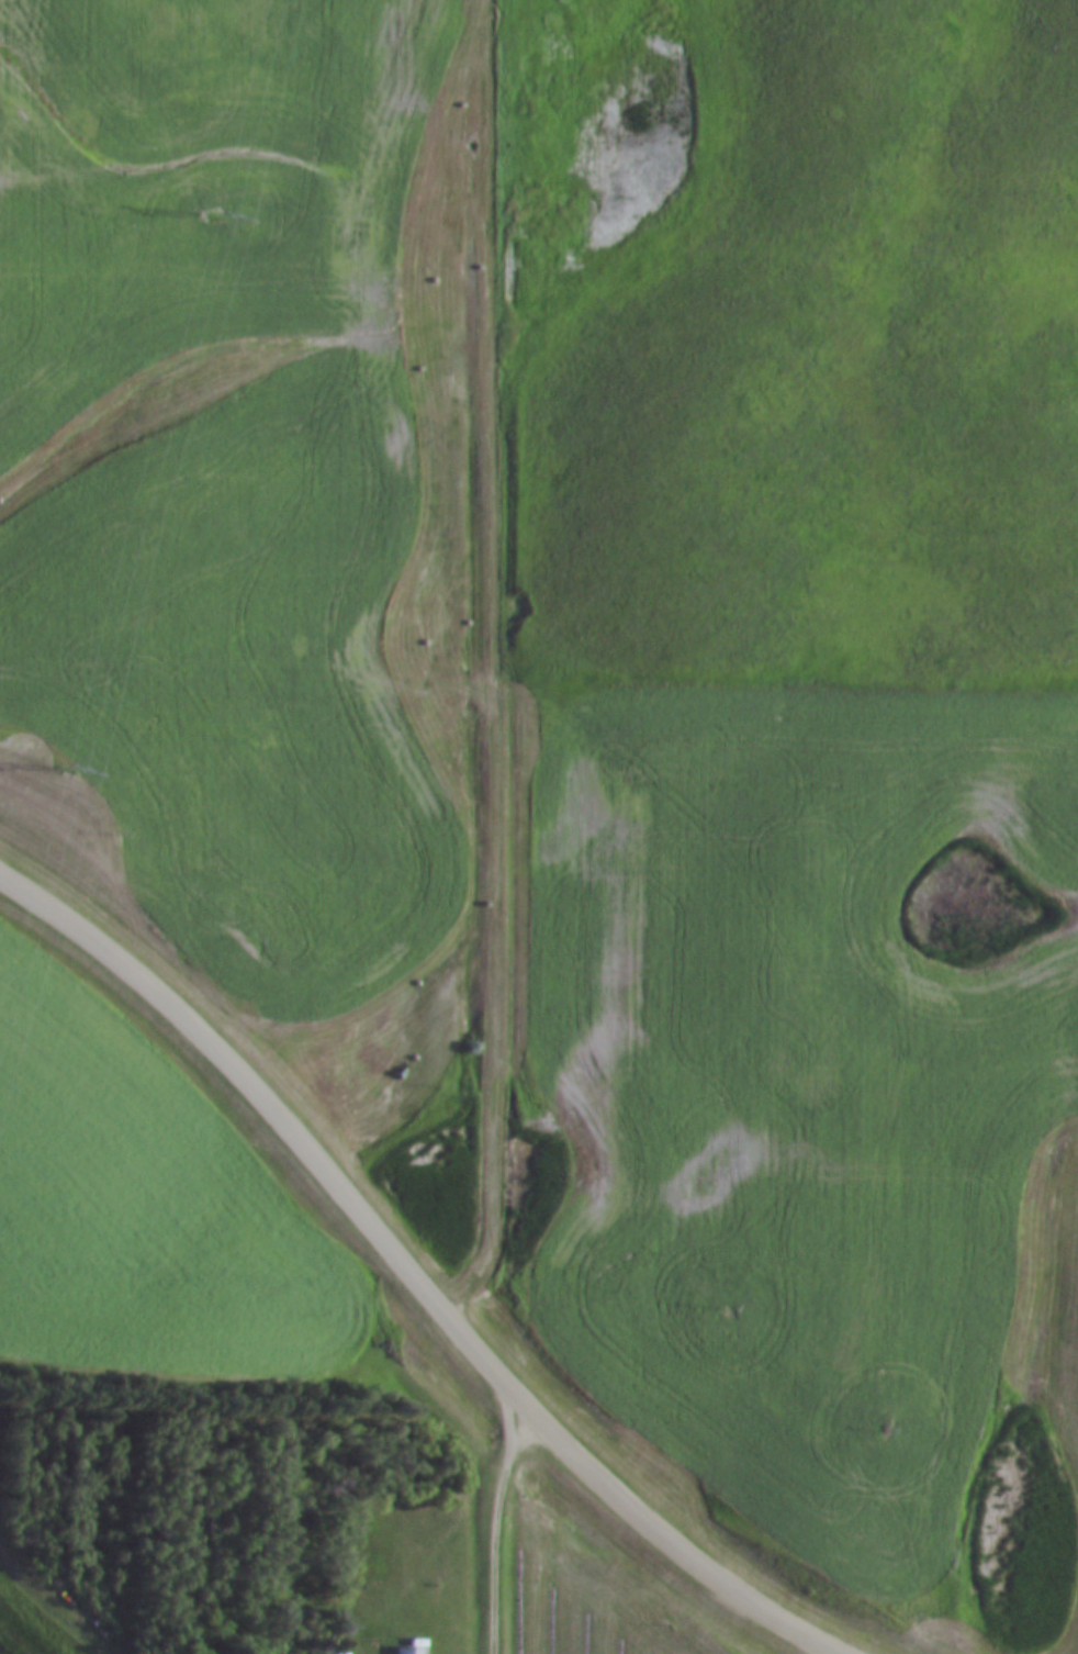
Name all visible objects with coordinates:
power tower: (216, 215)
road: (495, 662)
power tower: (71, 764)
road: (415, 1272)
road: (495, 1527)
building: (418, 1647)

